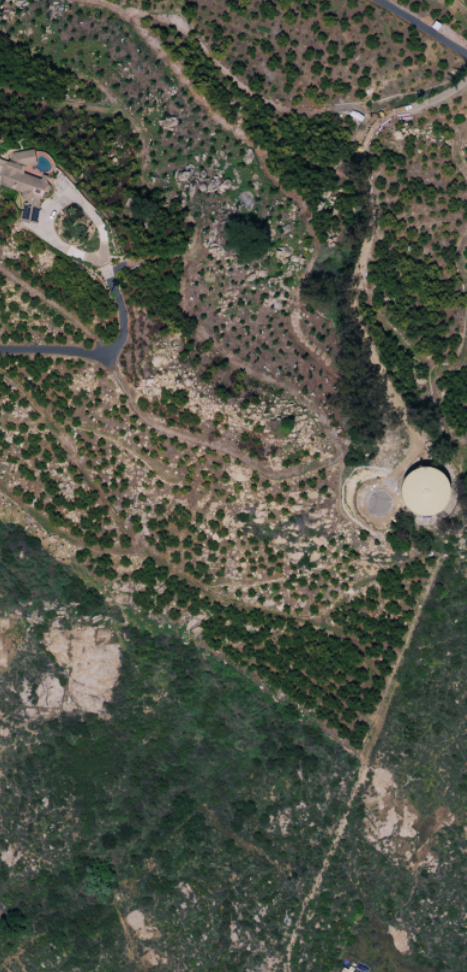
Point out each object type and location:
road: (422, 26)
building: (24, 187)
road: (102, 355)
building: (421, 491)

